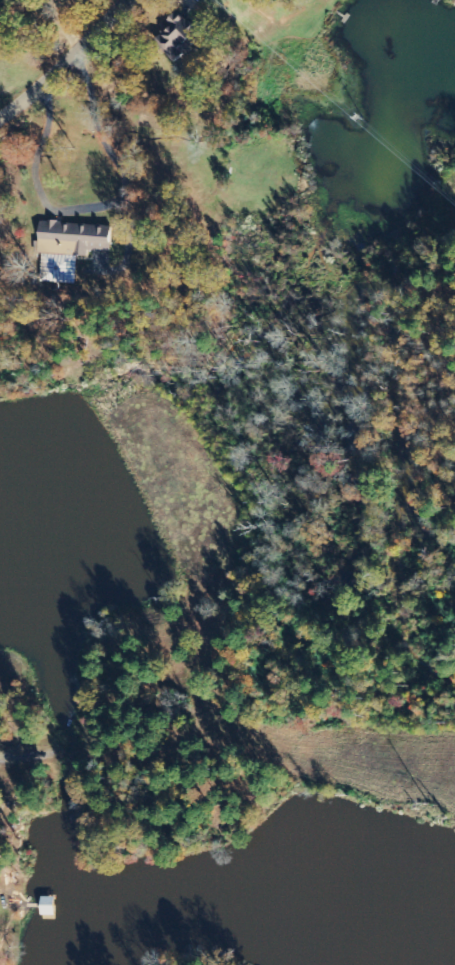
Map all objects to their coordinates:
building: (177, 37)
road: (66, 62)
building: (69, 249)

